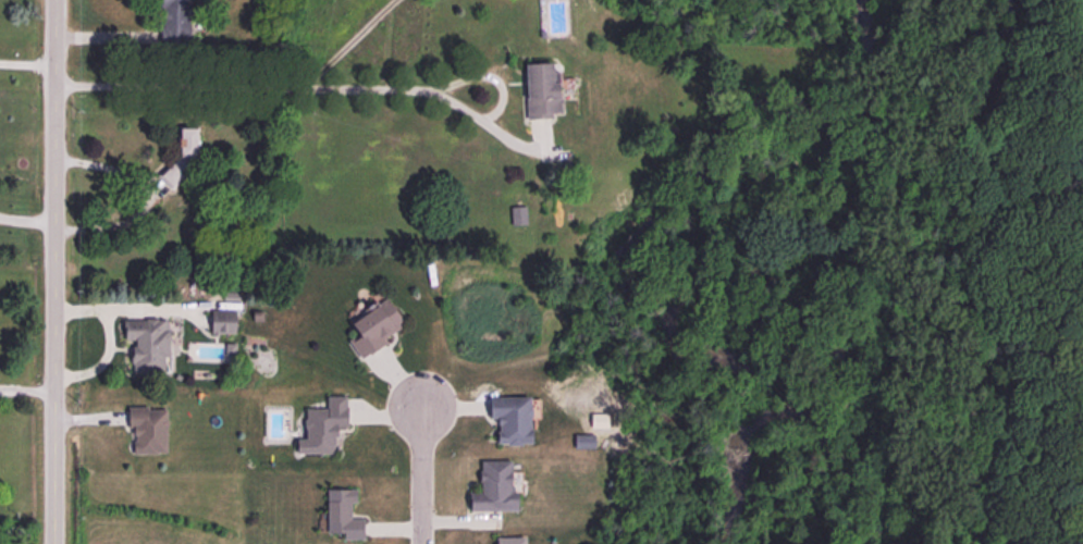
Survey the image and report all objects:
building: (173, 24)
road: (27, 61)
road: (247, 87)
building: (540, 91)
building: (193, 143)
road: (26, 215)
building: (517, 217)
road: (54, 271)
building: (226, 322)
building: (372, 327)
building: (151, 345)
road: (27, 390)
building: (508, 421)
building: (320, 429)
building: (151, 432)
building: (581, 443)
road: (423, 475)
building: (493, 487)
building: (340, 517)
building: (508, 541)

